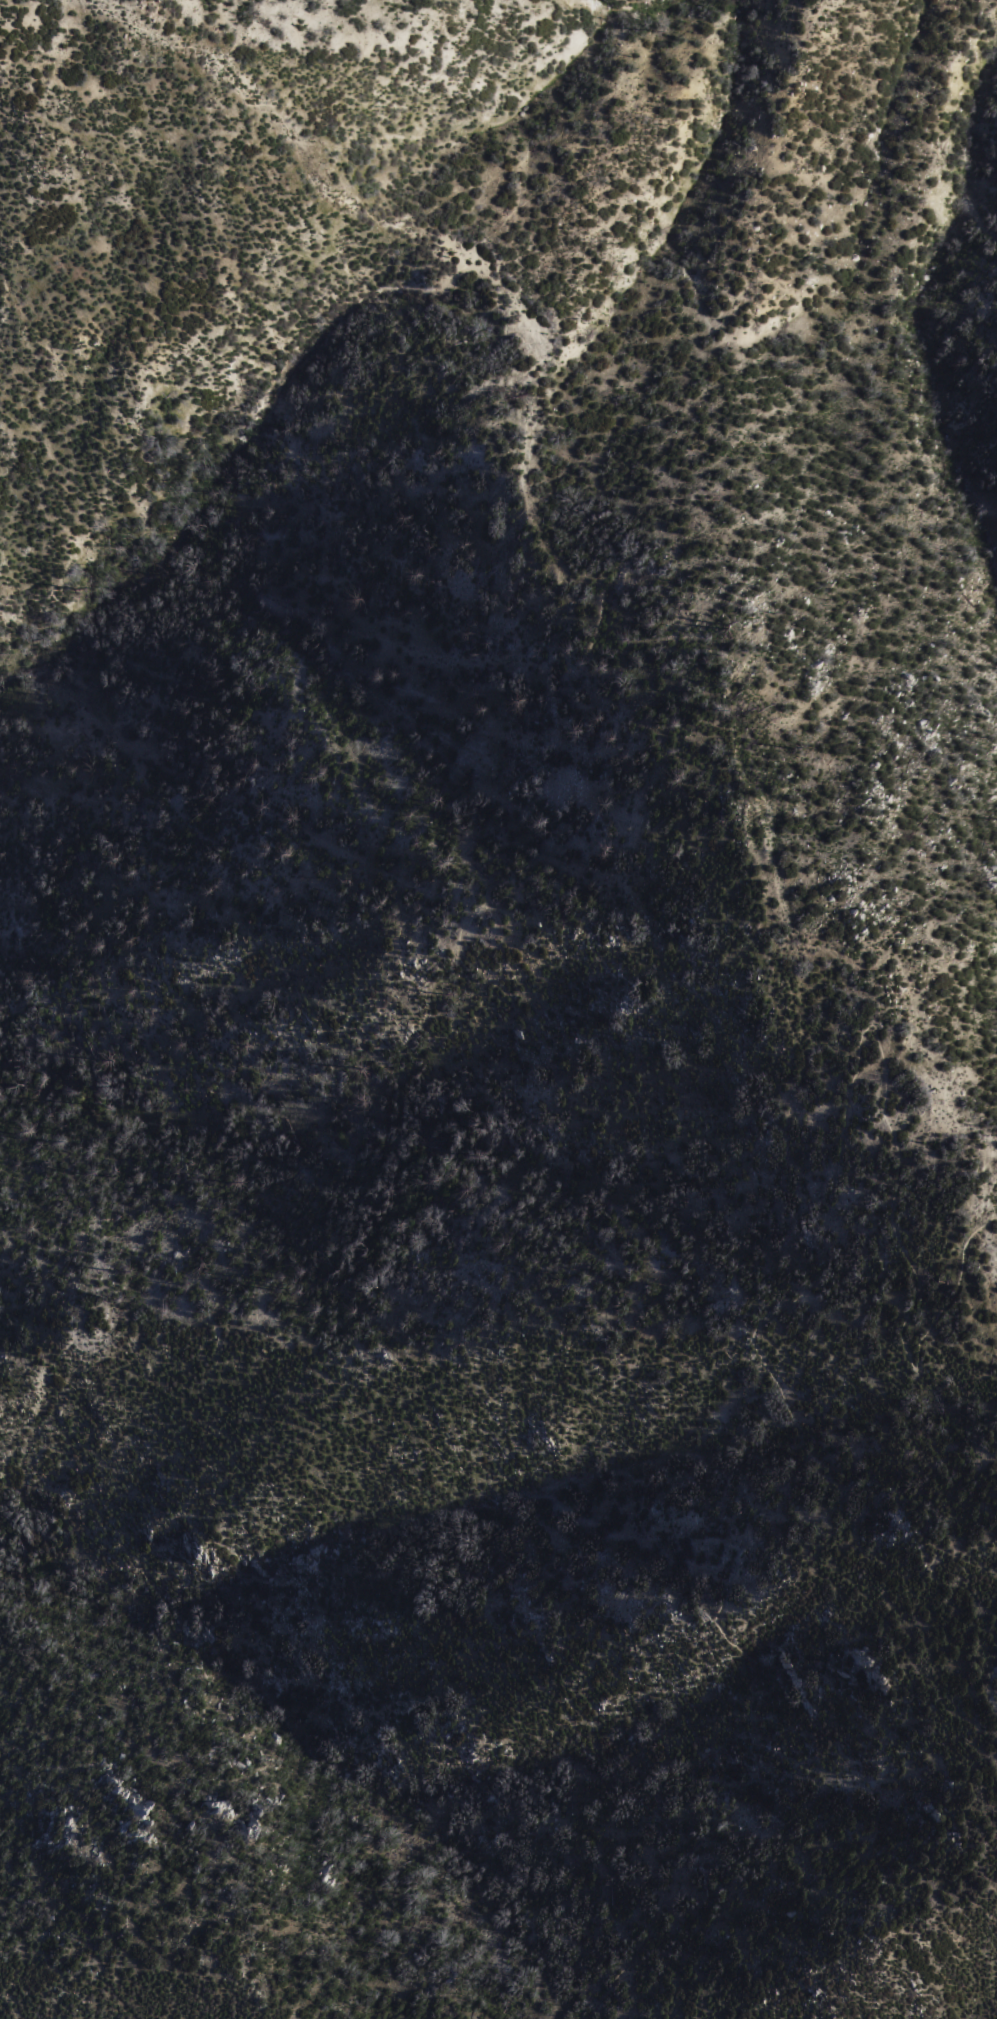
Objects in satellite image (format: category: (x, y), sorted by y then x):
road: (365, 212)
road: (792, 1306)

